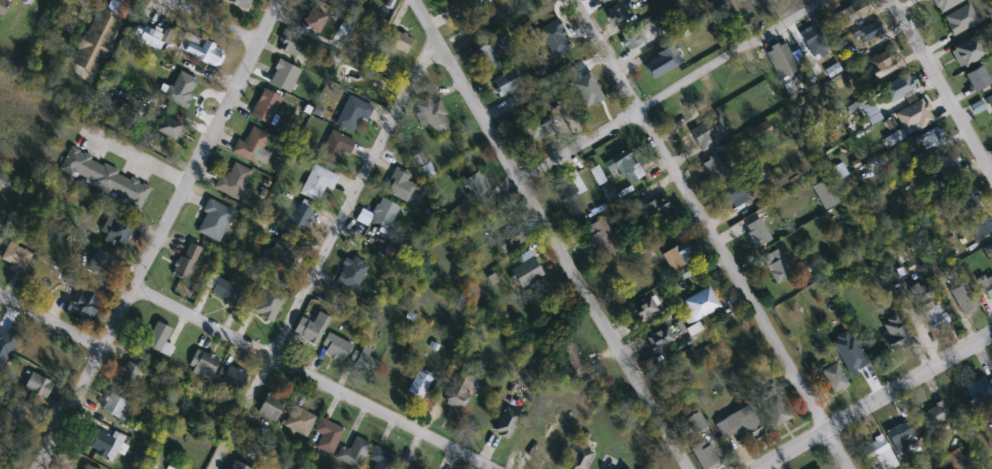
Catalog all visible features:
building: (50, 0)
building: (343, 0)
building: (454, 0)
building: (604, 1)
building: (78, 2)
building: (474, 5)
building: (3, 6)
building: (239, 6)
building: (856, 10)
building: (623, 17)
road: (217, 22)
building: (314, 22)
building: (871, 31)
building: (146, 36)
building: (632, 37)
building: (96, 41)
building: (401, 42)
building: (815, 42)
building: (200, 49)
building: (294, 51)
building: (968, 51)
building: (488, 53)
building: (887, 58)
building: (782, 60)
building: (661, 63)
building: (284, 76)
building: (977, 79)
building: (507, 83)
building: (905, 85)
road: (942, 85)
building: (182, 87)
building: (581, 87)
road: (676, 90)
building: (990, 100)
building: (266, 107)
building: (689, 109)
building: (920, 110)
building: (351, 115)
building: (434, 118)
building: (169, 128)
building: (540, 132)
building: (707, 134)
building: (932, 139)
building: (253, 148)
building: (335, 150)
road: (137, 156)
building: (947, 164)
building: (629, 169)
building: (714, 169)
building: (427, 170)
building: (104, 179)
building: (235, 180)
building: (317, 182)
building: (476, 184)
building: (399, 186)
building: (568, 187)
building: (736, 194)
building: (825, 194)
building: (968, 200)
building: (653, 212)
building: (384, 214)
building: (463, 214)
building: (301, 218)
building: (214, 220)
building: (980, 227)
building: (117, 229)
road: (159, 233)
building: (758, 233)
road: (550, 235)
road: (712, 235)
building: (603, 238)
building: (510, 240)
road: (324, 252)
building: (280, 253)
building: (16, 257)
building: (678, 257)
building: (98, 264)
building: (184, 266)
building: (777, 266)
building: (526, 272)
building: (985, 288)
building: (222, 289)
building: (82, 298)
building: (963, 299)
building: (702, 303)
building: (644, 310)
building: (934, 316)
road: (50, 323)
building: (311, 329)
building: (894, 334)
building: (157, 337)
building: (660, 339)
building: (7, 342)
building: (336, 348)
building: (573, 359)
building: (365, 362)
building: (203, 365)
building: (129, 374)
building: (233, 377)
road: (311, 378)
building: (835, 378)
building: (419, 385)
building: (40, 387)
building: (460, 392)
building: (980, 392)
road: (877, 402)
building: (116, 407)
building: (270, 407)
road: (31, 408)
building: (775, 410)
building: (935, 415)
building: (300, 421)
building: (506, 422)
building: (696, 423)
building: (741, 425)
building: (902, 435)
building: (328, 436)
building: (99, 444)
building: (551, 450)
building: (354, 453)
building: (705, 455)
building: (879, 455)
building: (382, 459)
building: (580, 459)
building: (955, 461)
building: (87, 467)
building: (408, 467)
building: (242, 468)

